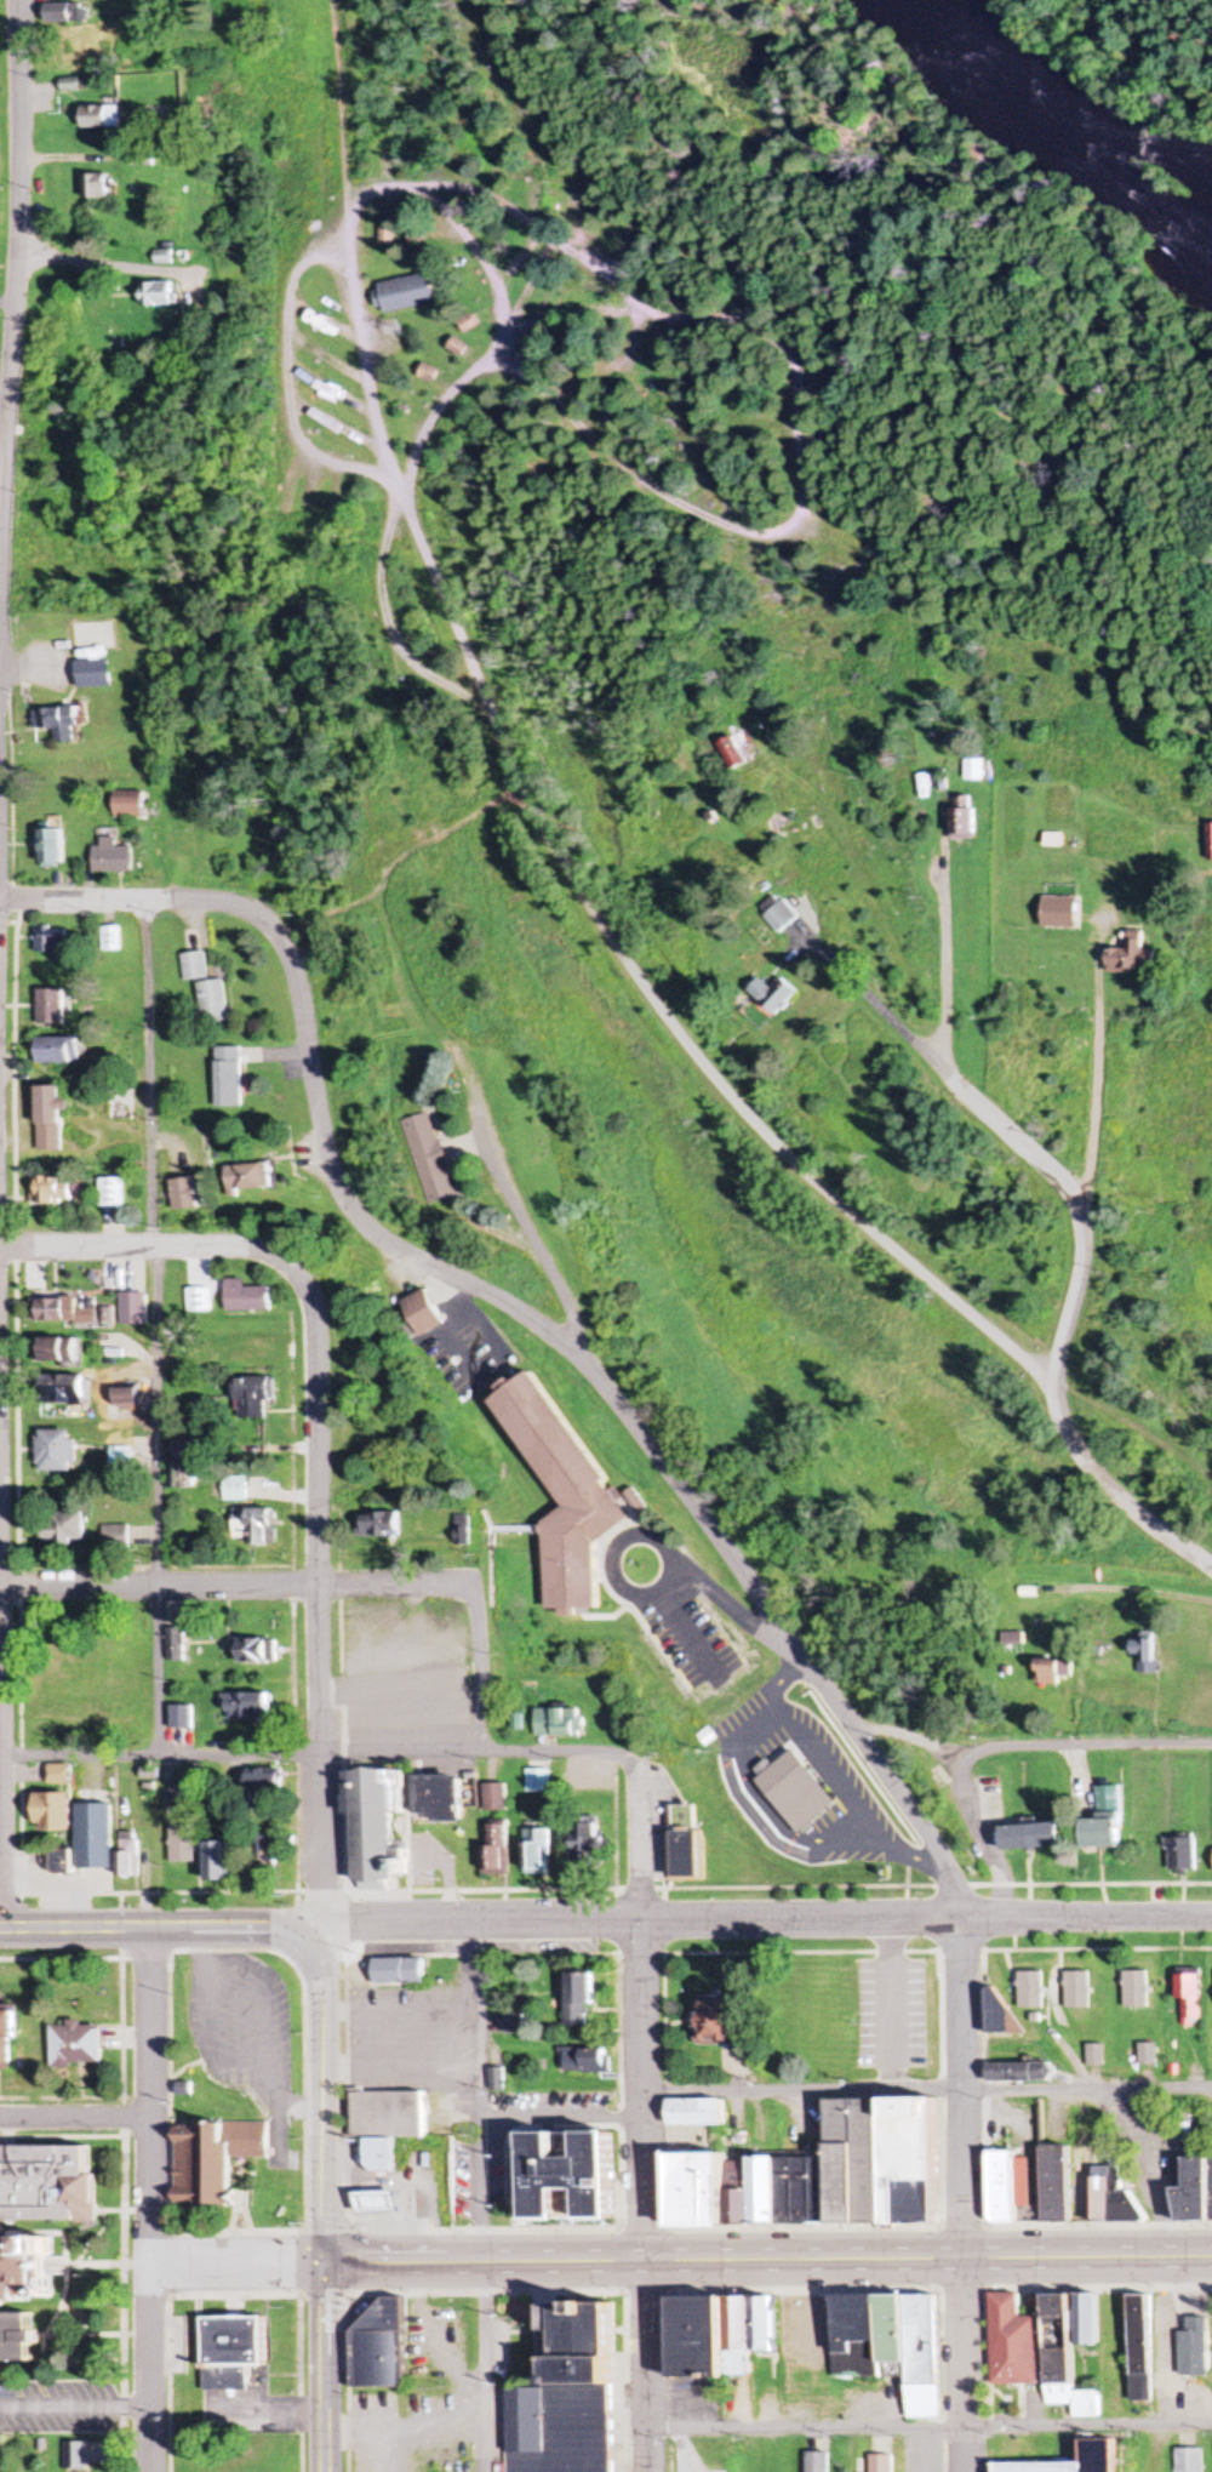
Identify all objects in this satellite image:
building: (64, 13)
river: (1082, 97)
building: (102, 118)
building: (97, 188)
building: (407, 295)
building: (161, 296)
road: (10, 319)
road: (288, 373)
road: (804, 451)
building: (824, 539)
building: (95, 657)
building: (58, 723)
building: (736, 754)
building: (972, 771)
building: (127, 805)
building: (960, 818)
building: (779, 827)
building: (1210, 841)
building: (47, 845)
building: (109, 856)
road: (572, 875)
road: (138, 898)
building: (777, 912)
building: (1060, 913)
building: (108, 938)
building: (48, 940)
building: (1132, 957)
building: (191, 966)
building: (777, 994)
road: (867, 1000)
building: (211, 1003)
building: (50, 1005)
building: (58, 1050)
road: (1093, 1061)
building: (228, 1078)
building: (122, 1104)
building: (52, 1118)
building: (428, 1159)
building: (250, 1178)
building: (53, 1189)
building: (114, 1193)
building: (185, 1194)
road: (143, 1245)
building: (247, 1297)
building: (199, 1300)
building: (135, 1308)
building: (63, 1309)
building: (423, 1313)
road: (1064, 1324)
road: (155, 1326)
building: (59, 1349)
building: (252, 1349)
building: (62, 1388)
building: (127, 1397)
building: (255, 1397)
road: (614, 1399)
road: (1131, 1423)
building: (185, 1448)
building: (56, 1450)
building: (128, 1457)
building: (178, 1475)
building: (235, 1489)
building: (565, 1494)
building: (379, 1525)
building: (255, 1526)
building: (62, 1528)
building: (115, 1538)
road: (236, 1587)
road: (327, 1597)
building: (1012, 1634)
building: (175, 1645)
building: (258, 1652)
building: (1144, 1656)
road: (479, 1667)
building: (1052, 1673)
building: (246, 1707)
building: (560, 1723)
road: (1081, 1746)
road: (318, 1753)
building: (582, 1774)
building: (56, 1775)
building: (538, 1781)
building: (256, 1783)
building: (794, 1791)
building: (496, 1798)
building: (439, 1800)
building: (50, 1812)
building: (1105, 1821)
building: (375, 1827)
building: (92, 1837)
building: (1034, 1838)
road: (1, 1842)
building: (687, 1842)
building: (181, 1844)
building: (587, 1845)
building: (497, 1852)
building: (538, 1852)
building: (126, 1855)
building: (1182, 1855)
building: (58, 1861)
building: (218, 1862)
road: (756, 1919)
road: (154, 1929)
building: (398, 1973)
building: (1031, 1991)
building: (1077, 1991)
building: (1138, 1991)
building: (579, 1999)
building: (1191, 2000)
road: (644, 2006)
building: (718, 2022)
building: (515, 2025)
building: (5, 2040)
building: (74, 2044)
building: (1149, 2055)
building: (1096, 2056)
building: (584, 2060)
building: (1021, 2073)
building: (497, 2080)
road: (960, 2088)
road: (145, 2096)
road: (321, 2102)
building: (696, 2113)
building: (387, 2114)
road: (73, 2117)
building: (379, 2153)
building: (211, 2159)
building: (567, 2176)
building: (821, 2177)
building: (45, 2185)
building: (1195, 2188)
building: (1062, 2190)
building: (378, 2200)
road: (768, 2260)
road: (238, 2263)
building: (24, 2266)
building: (1088, 2320)
building: (721, 2335)
building: (16, 2337)
building: (884, 2342)
building: (1013, 2343)
building: (378, 2347)
building: (1140, 2348)
building: (1196, 2348)
building: (233, 2353)
building: (1065, 2362)
road: (962, 2365)
road: (642, 2367)
road: (149, 2368)
road: (326, 2368)
building: (565, 2398)
building: (1098, 2453)
building: (74, 2457)
building: (1189, 2461)
building: (816, 2462)
building: (880, 2465)

